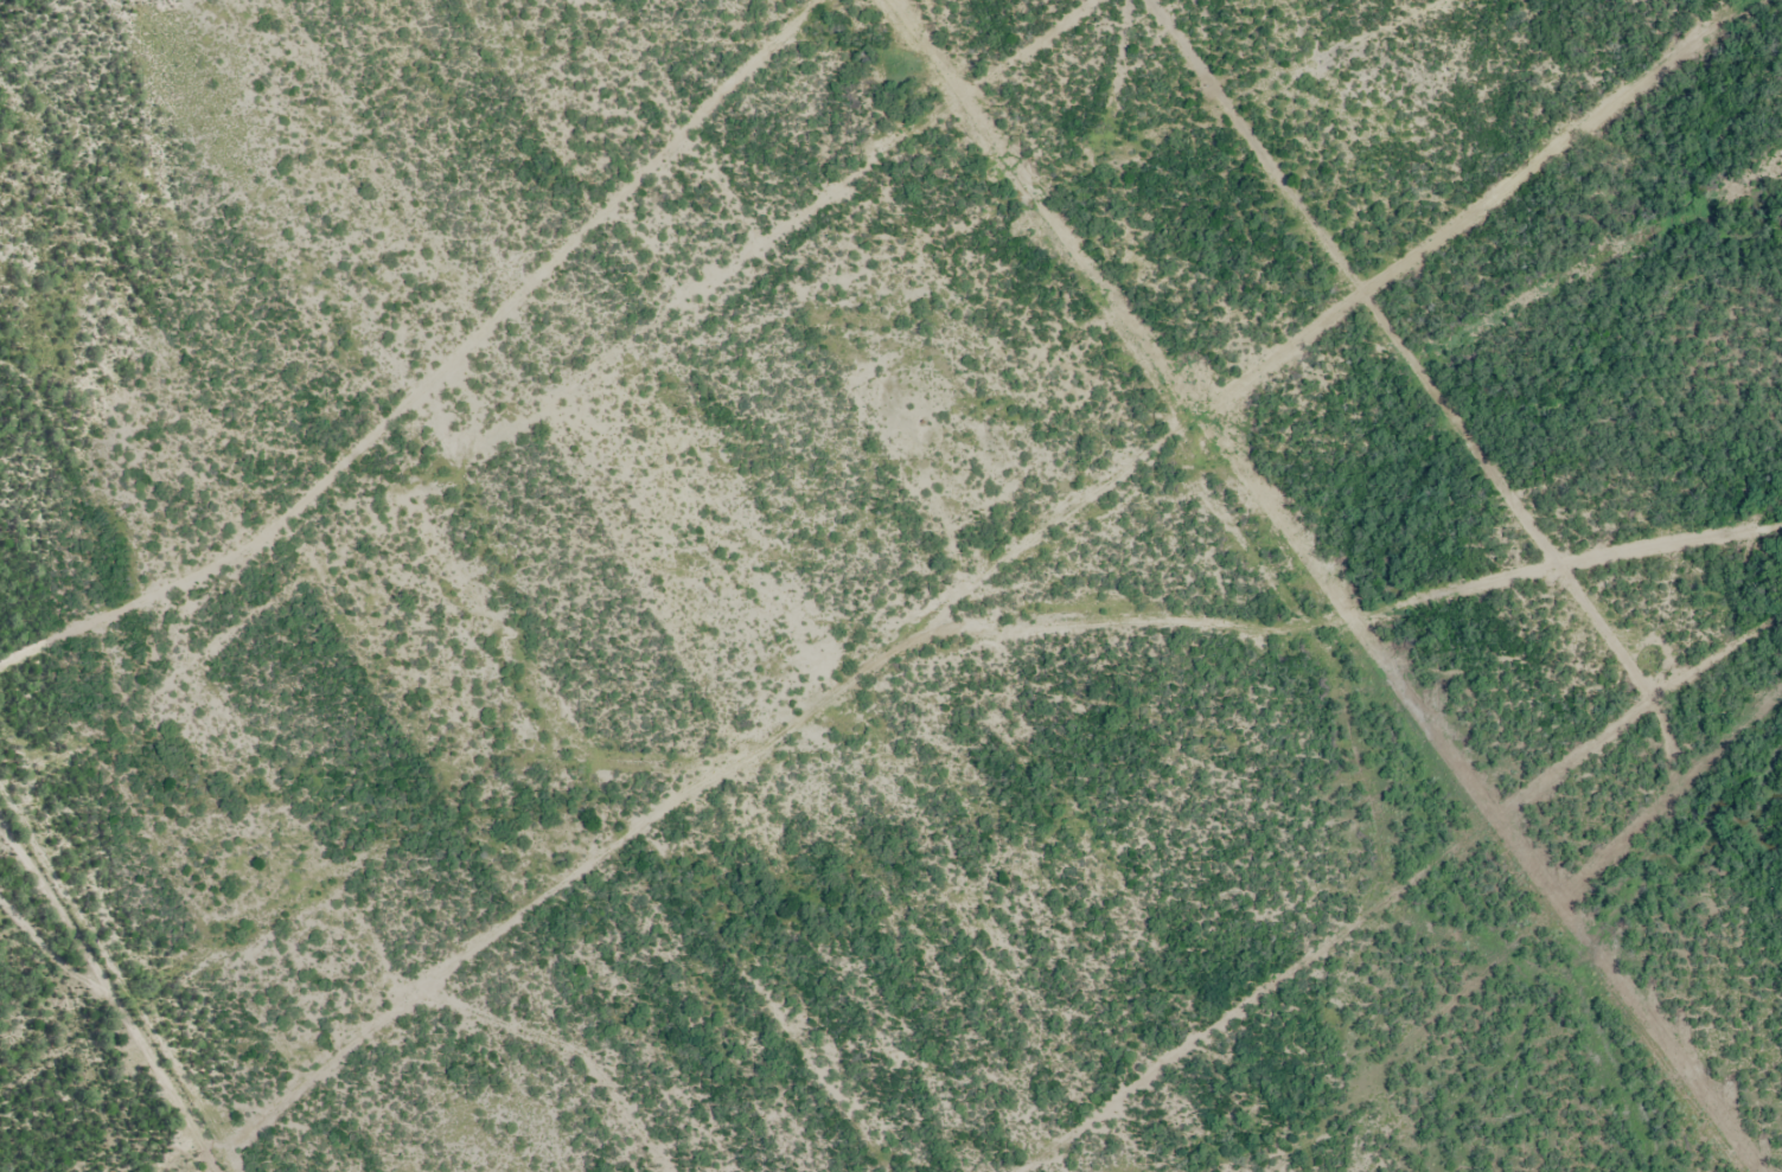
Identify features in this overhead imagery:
road: (863, 699)

